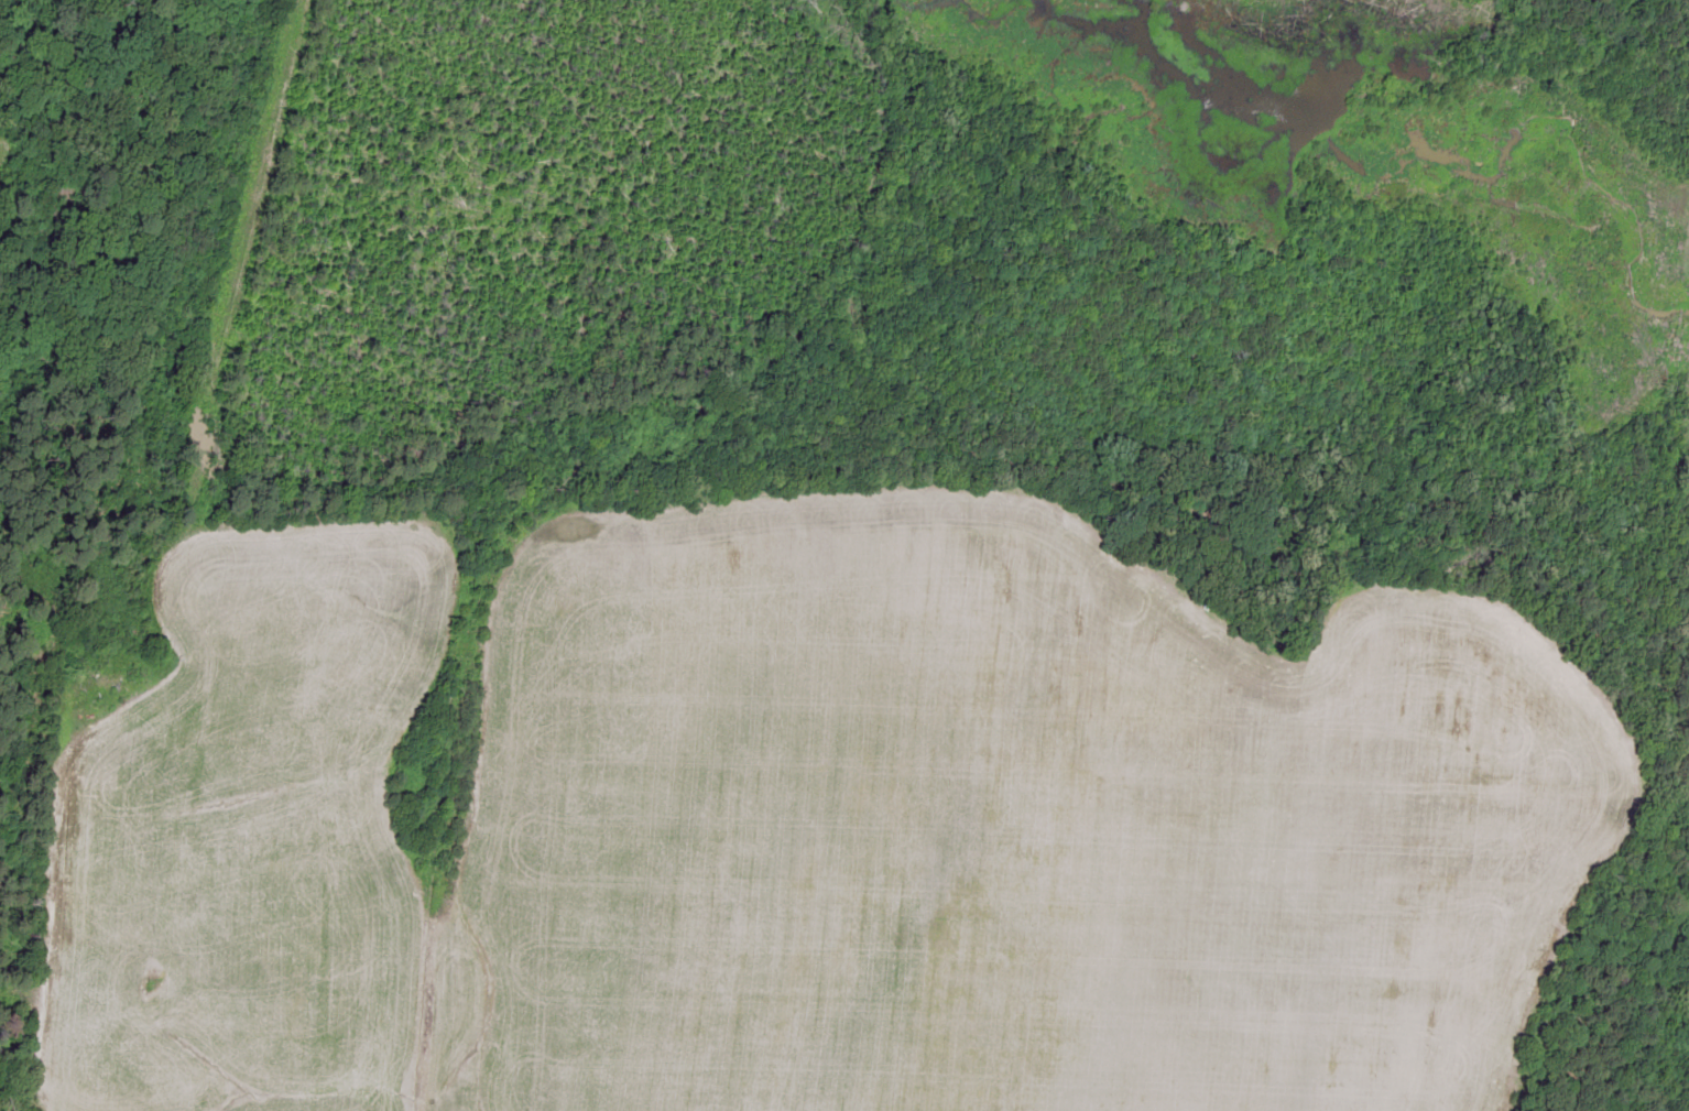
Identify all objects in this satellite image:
building: (107, 680)
road: (40, 941)

